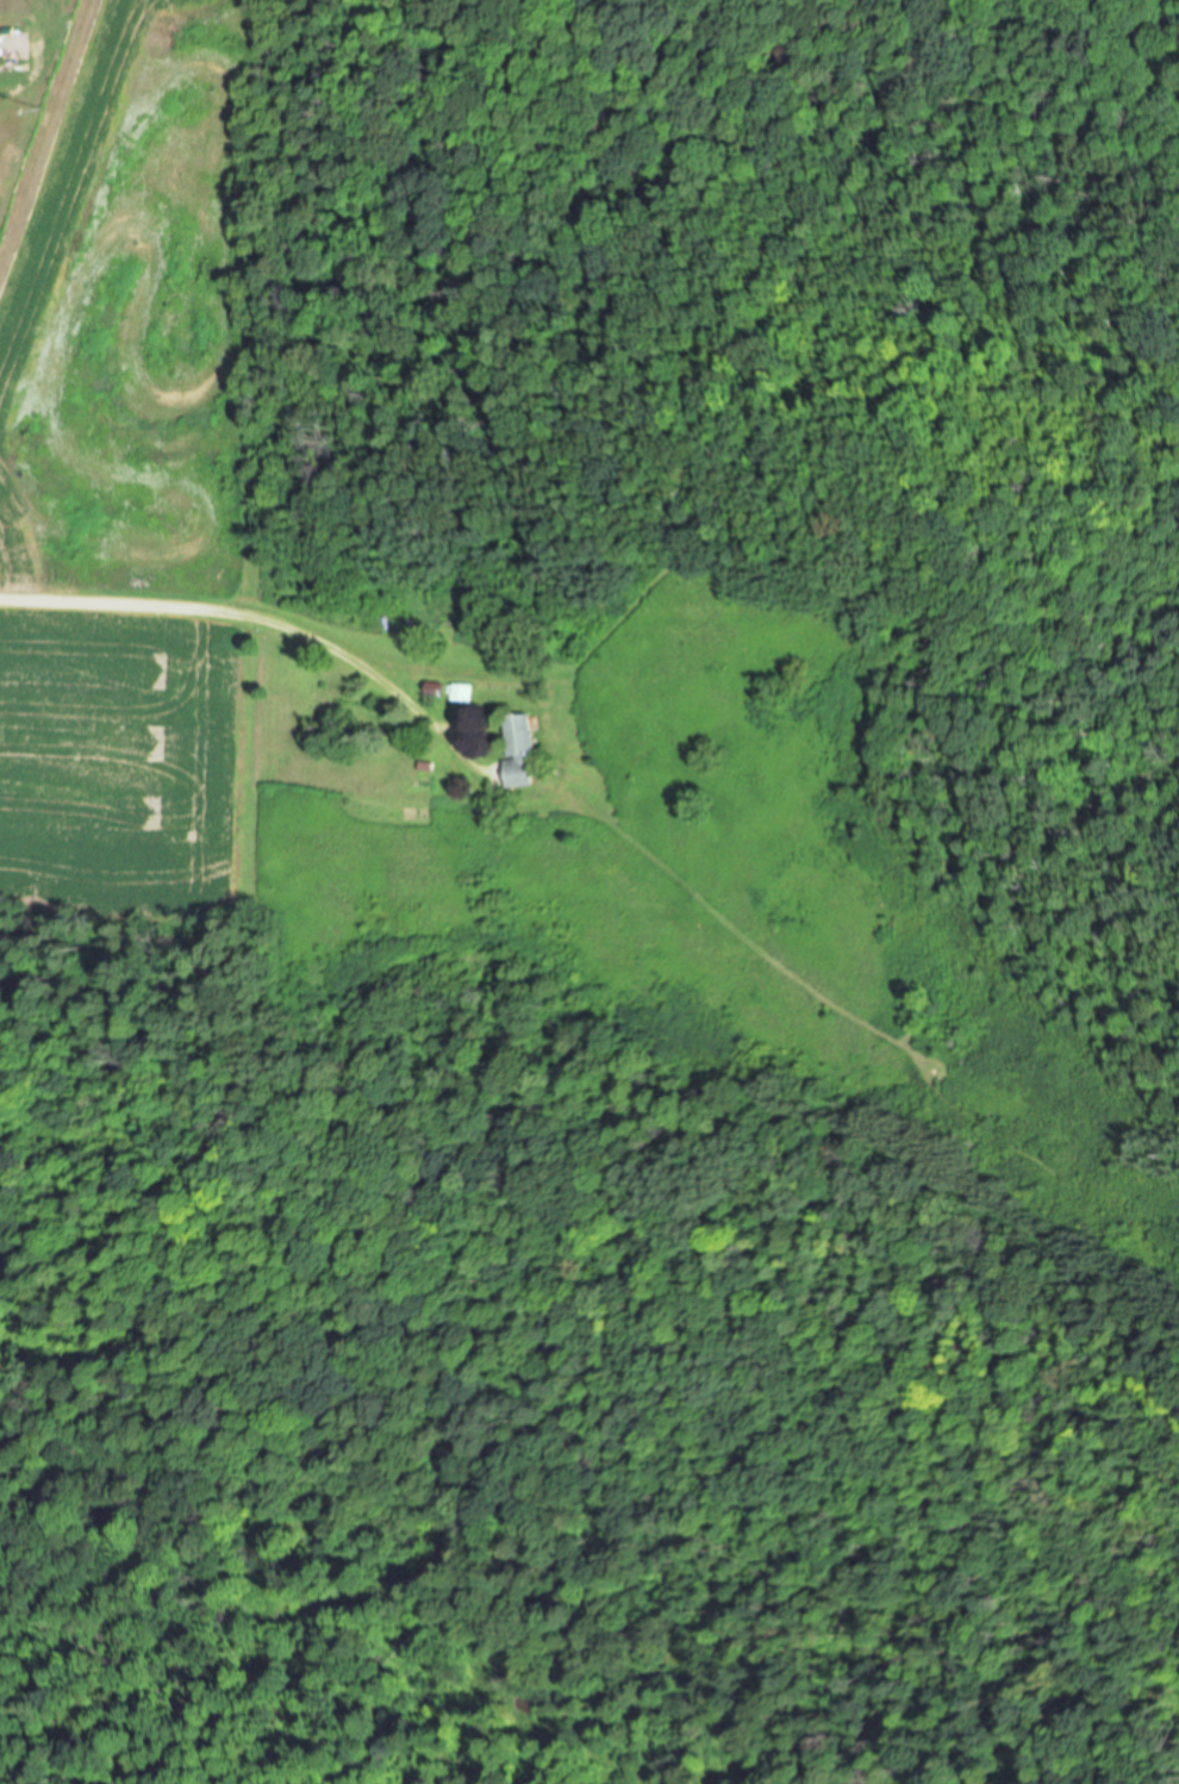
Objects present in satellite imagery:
park: (119, 286)
road: (256, 610)
building: (522, 750)

